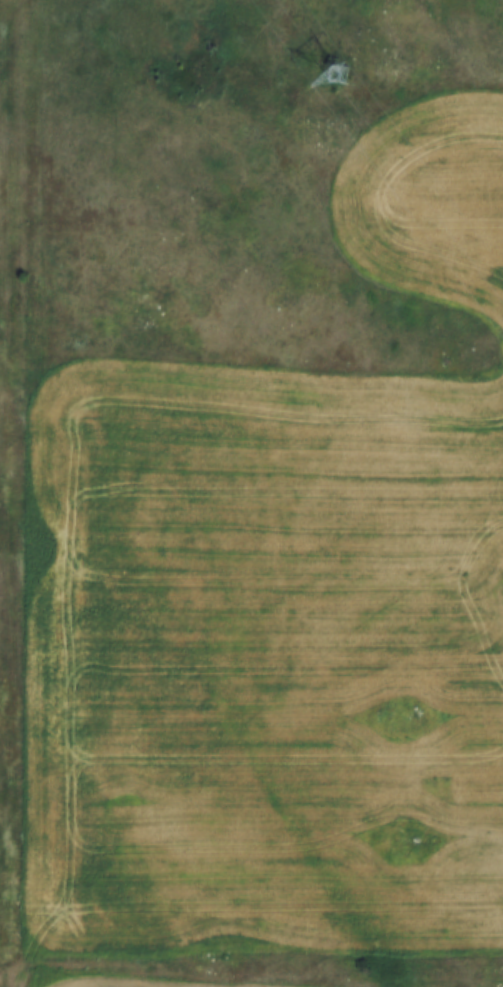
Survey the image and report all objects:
power tower: (333, 77)
road: (4, 981)

